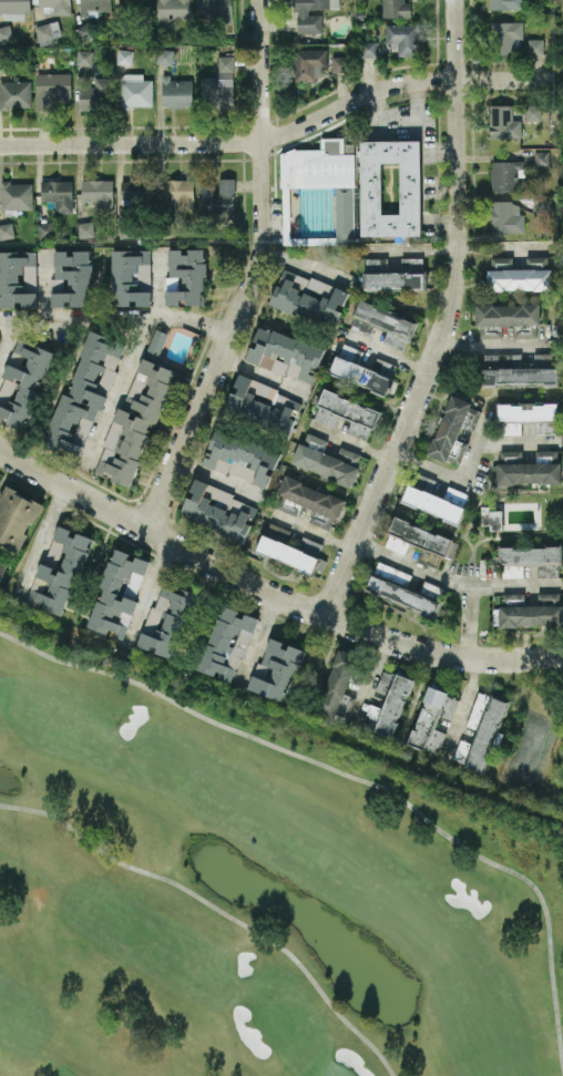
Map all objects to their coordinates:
building: (134, 3)
building: (95, 4)
building: (505, 4)
building: (57, 6)
building: (396, 8)
building: (13, 9)
building: (214, 9)
building: (172, 11)
building: (311, 14)
building: (84, 31)
building: (48, 32)
building: (6, 33)
building: (506, 37)
building: (405, 39)
building: (535, 47)
building: (368, 49)
building: (124, 57)
building: (164, 57)
building: (84, 58)
building: (339, 63)
building: (308, 64)
building: (219, 84)
building: (52, 89)
building: (135, 90)
building: (176, 92)
building: (98, 93)
building: (16, 94)
building: (533, 112)
building: (503, 123)
road: (405, 130)
road: (281, 135)
road: (433, 147)
building: (542, 157)
building: (505, 175)
building: (390, 187)
building: (135, 191)
building: (59, 194)
building: (318, 194)
building: (17, 195)
building: (99, 195)
building: (217, 198)
building: (541, 206)
building: (506, 217)
building: (85, 229)
building: (7, 230)
building: (501, 263)
building: (536, 263)
road: (250, 274)
building: (395, 275)
building: (71, 277)
building: (131, 277)
building: (185, 277)
building: (18, 279)
building: (519, 279)
road: (156, 284)
road: (42, 285)
building: (308, 297)
building: (508, 315)
road: (88, 318)
road: (447, 320)
building: (383, 325)
road: (203, 326)
road: (4, 332)
building: (156, 342)
road: (494, 345)
building: (284, 353)
building: (544, 357)
building: (385, 368)
building: (515, 371)
road: (263, 375)
building: (360, 375)
building: (22, 385)
road: (119, 391)
building: (84, 394)
building: (264, 403)
building: (528, 411)
building: (347, 413)
building: (135, 421)
building: (545, 427)
building: (453, 430)
road: (516, 442)
road: (473, 449)
building: (510, 457)
building: (546, 457)
building: (240, 458)
building: (327, 460)
road: (427, 467)
building: (526, 474)
road: (215, 478)
building: (458, 495)
building: (313, 502)
building: (433, 504)
building: (219, 511)
building: (16, 517)
building: (490, 517)
building: (419, 539)
road: (41, 541)
building: (309, 545)
building: (284, 547)
building: (530, 555)
building: (2, 568)
building: (59, 573)
road: (455, 583)
road: (147, 591)
road: (266, 591)
building: (119, 593)
building: (402, 595)
building: (534, 613)
building: (168, 619)
road: (467, 623)
road: (255, 638)
building: (227, 642)
building: (277, 670)
road: (369, 678)
building: (339, 686)
building: (388, 703)
road: (460, 707)
building: (432, 719)
building: (480, 731)
park: (252, 889)

